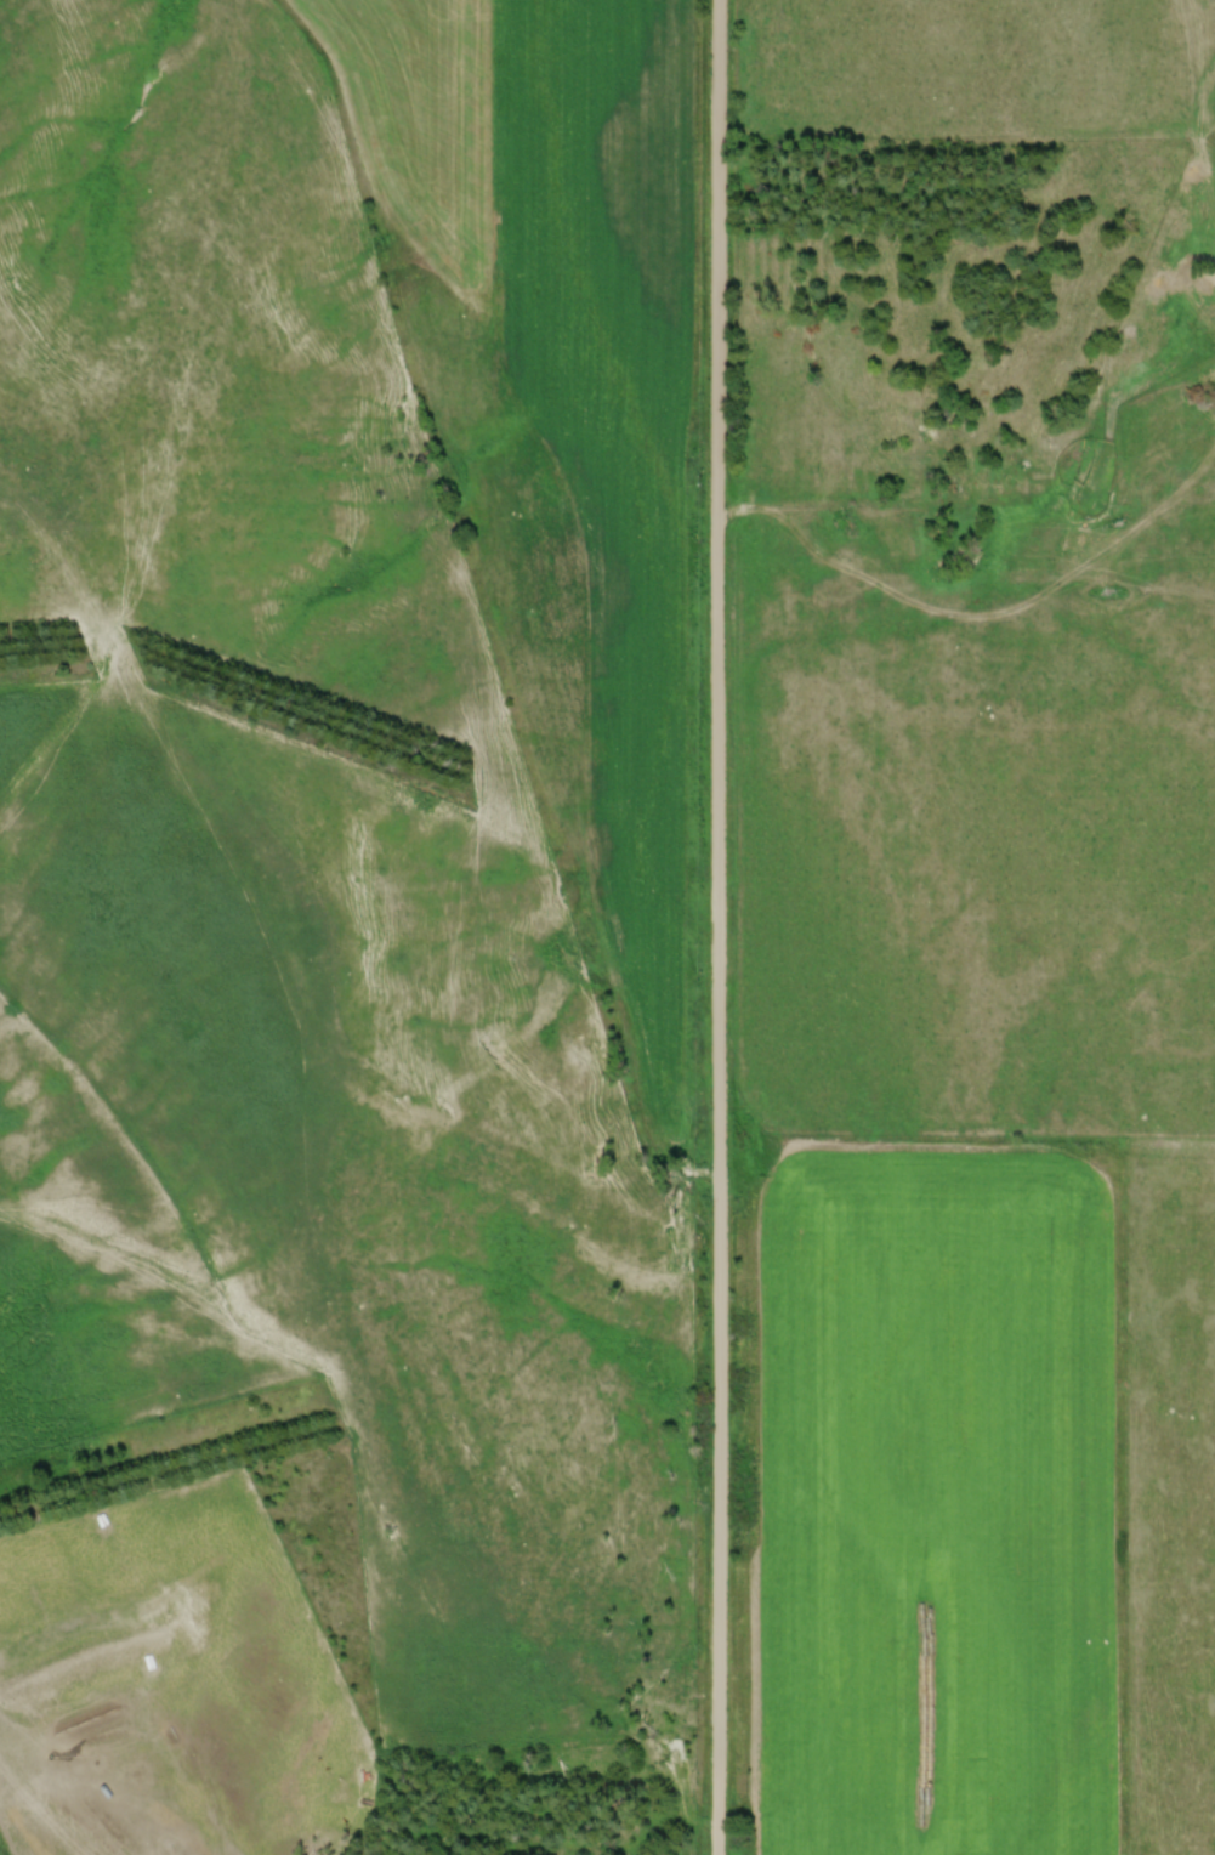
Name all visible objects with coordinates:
road: (978, 609)
road: (722, 926)

